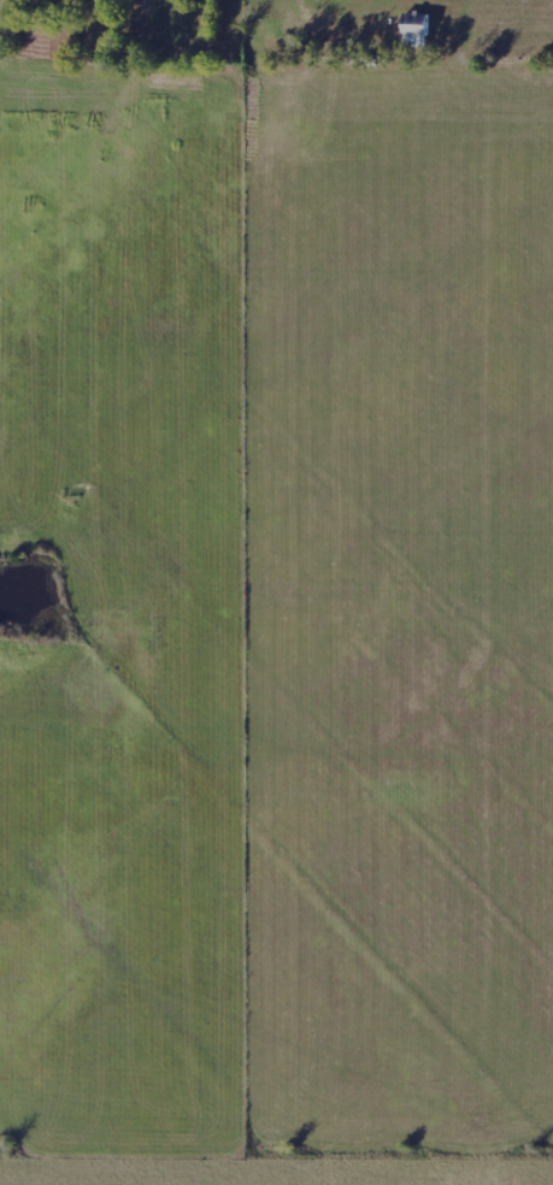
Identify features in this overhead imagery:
building: (416, 35)

